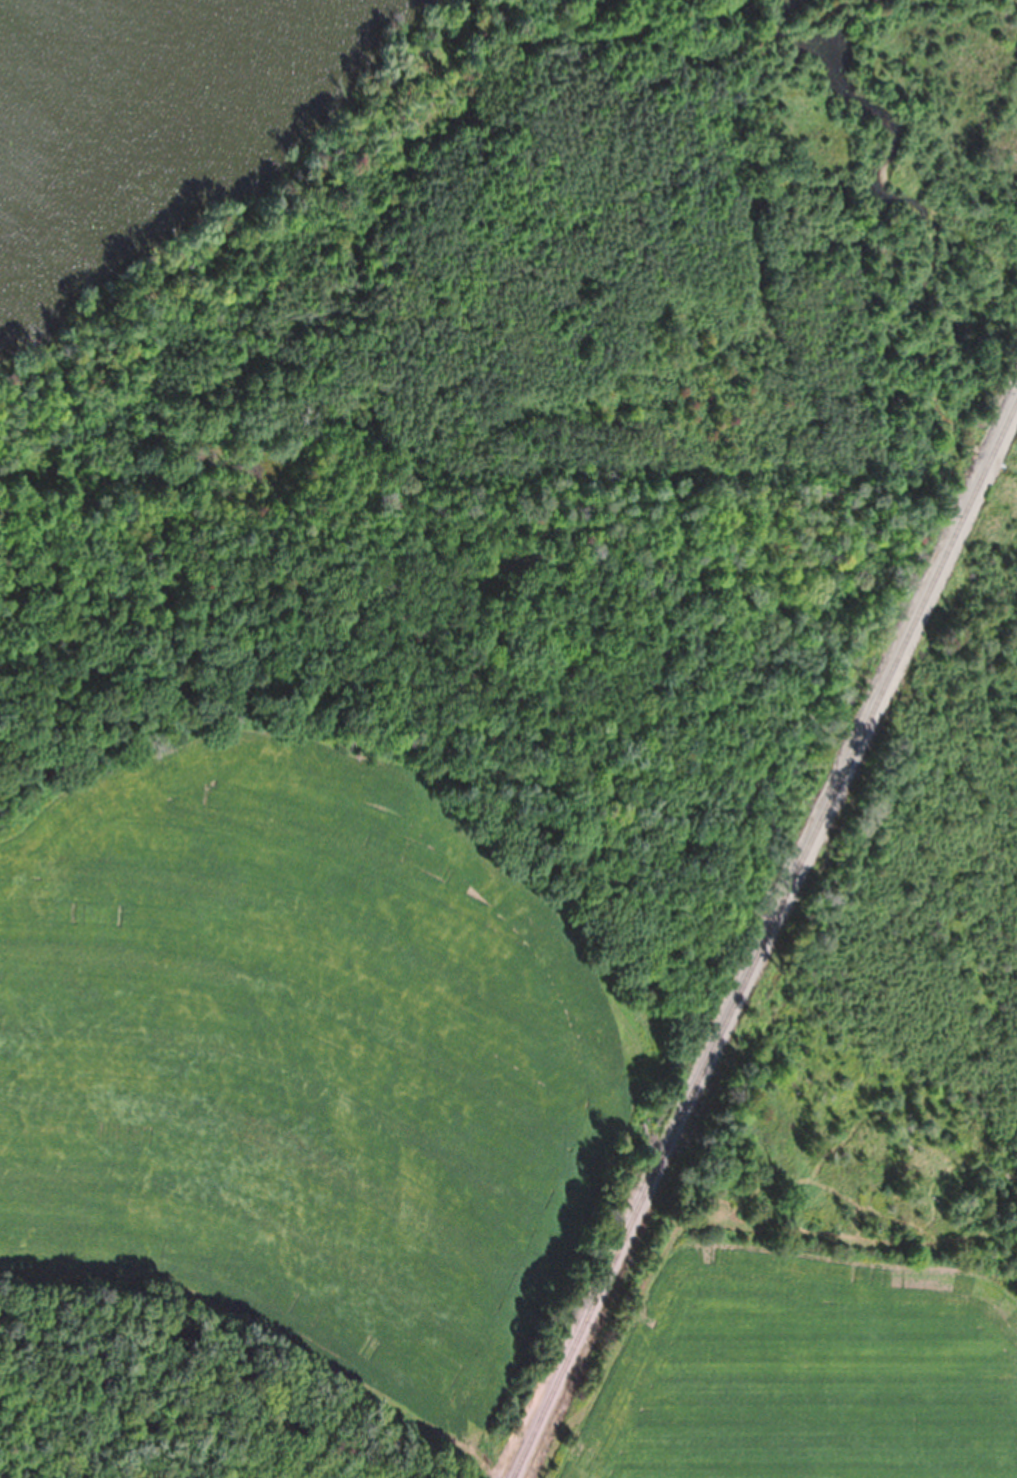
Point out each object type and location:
railway: (764, 937)

